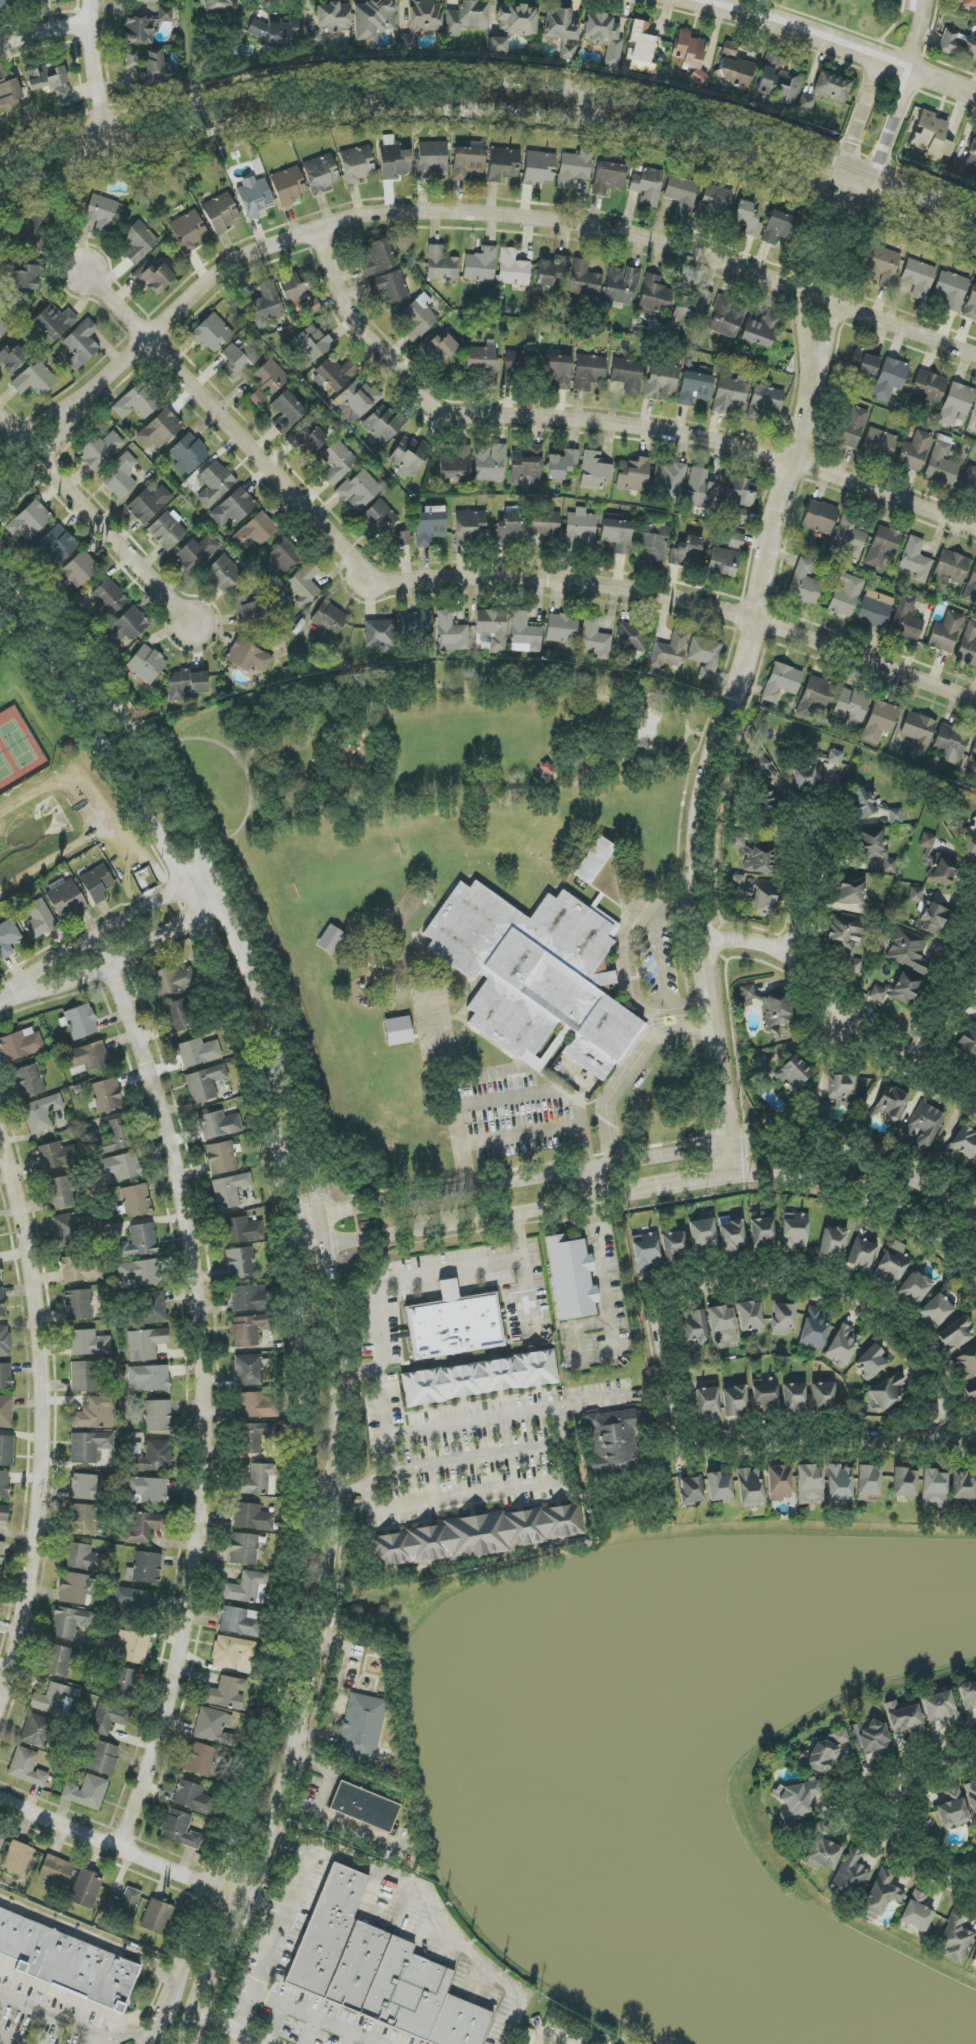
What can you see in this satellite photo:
building: (146, 1)
building: (5, 4)
building: (964, 4)
building: (216, 5)
parking lot: (911, 5)
building: (334, 16)
building: (425, 16)
park: (863, 16)
building: (373, 20)
building: (517, 20)
building: (559, 25)
building: (145, 26)
road: (43, 31)
building: (276, 31)
road: (918, 35)
building: (604, 36)
building: (408, 41)
road: (839, 44)
building: (958, 44)
building: (498, 45)
building: (641, 48)
building: (729, 50)
building: (567, 52)
building: (690, 54)
building: (149, 65)
building: (735, 73)
road: (96, 76)
road: (492, 78)
building: (51, 82)
building: (777, 82)
building: (831, 87)
building: (9, 95)
building: (806, 102)
building: (28, 113)
road: (492, 115)
building: (931, 137)
building: (972, 153)
building: (431, 159)
building: (394, 161)
building: (502, 164)
building: (356, 165)
building: (538, 168)
building: (574, 168)
building: (956, 168)
building: (320, 173)
building: (608, 178)
building: (287, 186)
building: (647, 186)
building: (681, 194)
building: (254, 198)
building: (716, 200)
building: (221, 212)
road: (496, 212)
road: (830, 212)
building: (99, 214)
building: (747, 218)
road: (861, 222)
building: (777, 227)
building: (34, 231)
building: (188, 231)
building: (139, 242)
building: (377, 257)
building: (441, 264)
building: (480, 265)
building: (883, 266)
building: (512, 268)
building: (551, 270)
building: (27, 276)
building: (153, 277)
building: (919, 278)
building: (583, 279)
building: (621, 285)
building: (298, 286)
building: (389, 287)
building: (951, 290)
building: (655, 296)
building: (266, 305)
building: (971, 305)
building: (312, 307)
building: (691, 308)
building: (727, 317)
building: (419, 318)
building: (54, 322)
building: (3, 328)
building: (761, 330)
building: (211, 333)
building: (81, 344)
building: (311, 344)
building: (442, 347)
building: (239, 357)
building: (11, 358)
building: (482, 358)
building: (516, 361)
building: (864, 363)
building: (588, 371)
building: (557, 372)
building: (334, 374)
building: (627, 375)
building: (270, 377)
building: (890, 378)
building: (35, 379)
building: (661, 381)
building: (928, 387)
building: (694, 388)
building: (730, 393)
building: (360, 397)
building: (258, 398)
building: (766, 399)
building: (137, 402)
building: (956, 404)
building: (287, 412)
road: (603, 421)
building: (383, 424)
building: (852, 427)
building: (160, 430)
road: (28, 432)
building: (307, 440)
building: (879, 445)
building: (100, 450)
building: (914, 452)
building: (188, 454)
road: (34, 456)
building: (408, 457)
building: (337, 462)
building: (455, 463)
building: (489, 463)
building: (942, 463)
building: (561, 464)
building: (526, 466)
building: (594, 470)
building: (633, 475)
building: (120, 476)
building: (668, 480)
building: (969, 480)
building: (214, 484)
building: (700, 488)
building: (359, 490)
building: (740, 492)
building: (148, 504)
building: (233, 508)
road: (97, 516)
building: (740, 516)
building: (380, 517)
building: (820, 517)
building: (29, 521)
building: (544, 523)
building: (430, 525)
building: (468, 526)
building: (509, 527)
building: (579, 529)
building: (167, 530)
building: (255, 531)
building: (617, 535)
building: (849, 538)
building: (402, 539)
building: (736, 540)
building: (654, 542)
building: (58, 544)
building: (882, 546)
building: (687, 552)
building: (197, 553)
building: (279, 559)
building: (915, 559)
building: (723, 563)
building: (951, 567)
building: (79, 570)
building: (224, 574)
road: (471, 575)
building: (804, 583)
building: (304, 585)
building: (971, 588)
building: (845, 595)
building: (247, 607)
building: (875, 609)
building: (329, 619)
building: (906, 619)
building: (417, 625)
building: (127, 626)
building: (492, 627)
building: (562, 628)
building: (946, 632)
building: (379, 633)
building: (451, 633)
building: (524, 634)
building: (632, 637)
building: (595, 638)
building: (968, 645)
building: (669, 651)
building: (248, 657)
building: (705, 657)
building: (146, 664)
building: (781, 682)
building: (185, 684)
building: (814, 696)
road: (727, 703)
building: (850, 708)
road: (121, 717)
building: (879, 722)
park: (28, 733)
building: (918, 733)
building: (950, 743)
park: (432, 744)
building: (973, 753)
building: (835, 757)
building: (759, 764)
building: (549, 769)
building: (808, 777)
building: (975, 779)
road: (559, 789)
building: (769, 802)
building: (862, 802)
building: (895, 815)
building: (970, 841)
building: (927, 846)
building: (876, 849)
road: (172, 855)
building: (754, 859)
building: (599, 870)
building: (942, 870)
building: (96, 883)
road: (218, 883)
building: (851, 889)
road: (812, 890)
building: (915, 894)
building: (756, 896)
building: (66, 900)
building: (873, 909)
building: (39, 919)
building: (932, 919)
building: (8, 938)
building: (330, 939)
road: (244, 940)
building: (847, 945)
building: (908, 951)
road: (628, 964)
building: (530, 969)
building: (173, 980)
building: (905, 988)
road: (945, 990)
building: (878, 993)
road: (7, 998)
road: (841, 1002)
building: (770, 1006)
building: (975, 1007)
building: (178, 1015)
building: (81, 1021)
building: (398, 1031)
building: (969, 1041)
building: (20, 1044)
building: (198, 1052)
building: (87, 1058)
road: (627, 1073)
building: (792, 1073)
building: (28, 1081)
building: (205, 1083)
building: (840, 1089)
building: (107, 1095)
road: (509, 1097)
building: (891, 1103)
road: (299, 1105)
road: (718, 1108)
building: (41, 1113)
building: (219, 1125)
building: (923, 1126)
road: (521, 1136)
building: (116, 1137)
building: (964, 1143)
road: (732, 1145)
building: (57, 1156)
building: (221, 1158)
building: (120, 1168)
building: (230, 1190)
building: (60, 1192)
road: (647, 1194)
road: (288, 1195)
building: (136, 1200)
traffic signals: (289, 1200)
road: (393, 1202)
traffic signals: (338, 1212)
road: (306, 1217)
building: (68, 1229)
building: (242, 1230)
building: (762, 1230)
building: (795, 1230)
building: (702, 1233)
building: (731, 1234)
building: (139, 1242)
building: (832, 1242)
building: (672, 1244)
building: (645, 1250)
building: (861, 1253)
traffic signals: (327, 1261)
road: (603, 1262)
building: (241, 1263)
building: (892, 1263)
building: (81, 1269)
building: (140, 1272)
building: (0, 1274)
road: (770, 1277)
building: (571, 1278)
building: (914, 1287)
building: (250, 1298)
building: (2, 1303)
building: (79, 1305)
building: (152, 1307)
building: (935, 1310)
building: (749, 1316)
building: (782, 1318)
building: (454, 1323)
building: (695, 1326)
building: (722, 1327)
building: (815, 1328)
building: (249, 1329)
building: (955, 1334)
building: (4, 1342)
building: (88, 1343)
building: (145, 1344)
building: (842, 1346)
building: (870, 1362)
building: (965, 1365)
building: (249, 1370)
road: (359, 1372)
building: (5, 1376)
building: (83, 1377)
building: (148, 1378)
building: (479, 1378)
road: (203, 1389)
building: (887, 1393)
building: (764, 1395)
building: (971, 1395)
building: (823, 1396)
building: (794, 1398)
building: (707, 1401)
building: (734, 1401)
building: (257, 1406)
building: (6, 1411)
building: (94, 1414)
building: (157, 1415)
road: (42, 1420)
road: (456, 1422)
building: (257, 1436)
building: (612, 1441)
road: (823, 1442)
building: (89, 1446)
building: (6, 1451)
building: (152, 1456)
road: (476, 1457)
road: (387, 1470)
building: (259, 1481)
building: (868, 1482)
building: (904, 1482)
building: (779, 1483)
building: (810, 1484)
building: (839, 1485)
building: (962, 1486)
building: (84, 1487)
building: (719, 1487)
building: (750, 1487)
building: (934, 1487)
building: (149, 1490)
building: (691, 1490)
road: (321, 1497)
building: (4, 1513)
building: (252, 1517)
building: (82, 1519)
building: (145, 1527)
building: (477, 1535)
building: (244, 1549)
building: (1, 1553)
building: (83, 1558)
building: (145, 1568)
building: (73, 1588)
building: (247, 1588)
building: (133, 1599)
road: (294, 1620)
building: (68, 1622)
building: (238, 1622)
road: (318, 1640)
building: (132, 1647)
building: (231, 1651)
building: (57, 1660)
building: (123, 1683)
building: (226, 1693)
building: (967, 1695)
building: (56, 1699)
building: (941, 1708)
building: (903, 1717)
building: (108, 1718)
building: (213, 1727)
building: (362, 1727)
building: (36, 1730)
building: (871, 1737)
building: (819, 1757)
building: (102, 1758)
building: (200, 1759)
building: (26, 1768)
road: (330, 1770)
building: (87, 1791)
building: (971, 1796)
building: (192, 1797)
building: (795, 1799)
building: (364, 1807)
road: (847, 1807)
building: (952, 1810)
road: (894, 1822)
building: (180, 1830)
building: (1, 1842)
road: (119, 1848)
building: (822, 1855)
building: (18, 1859)
building: (55, 1872)
building: (849, 1875)
road: (301, 1879)
building: (86, 1889)
building: (880, 1895)
road: (433, 1900)
building: (124, 1902)
building: (916, 1912)
building: (156, 1917)
road: (90, 1935)
building: (956, 1938)
road: (270, 1950)
building: (975, 1957)
building: (65, 1964)
building: (975, 1967)
building: (376, 1970)
road: (173, 1989)
road: (317, 2017)
road: (157, 2024)
road: (75, 2028)
road: (229, 2028)
road: (240, 2039)
road: (5, 2041)
road: (104, 2043)

